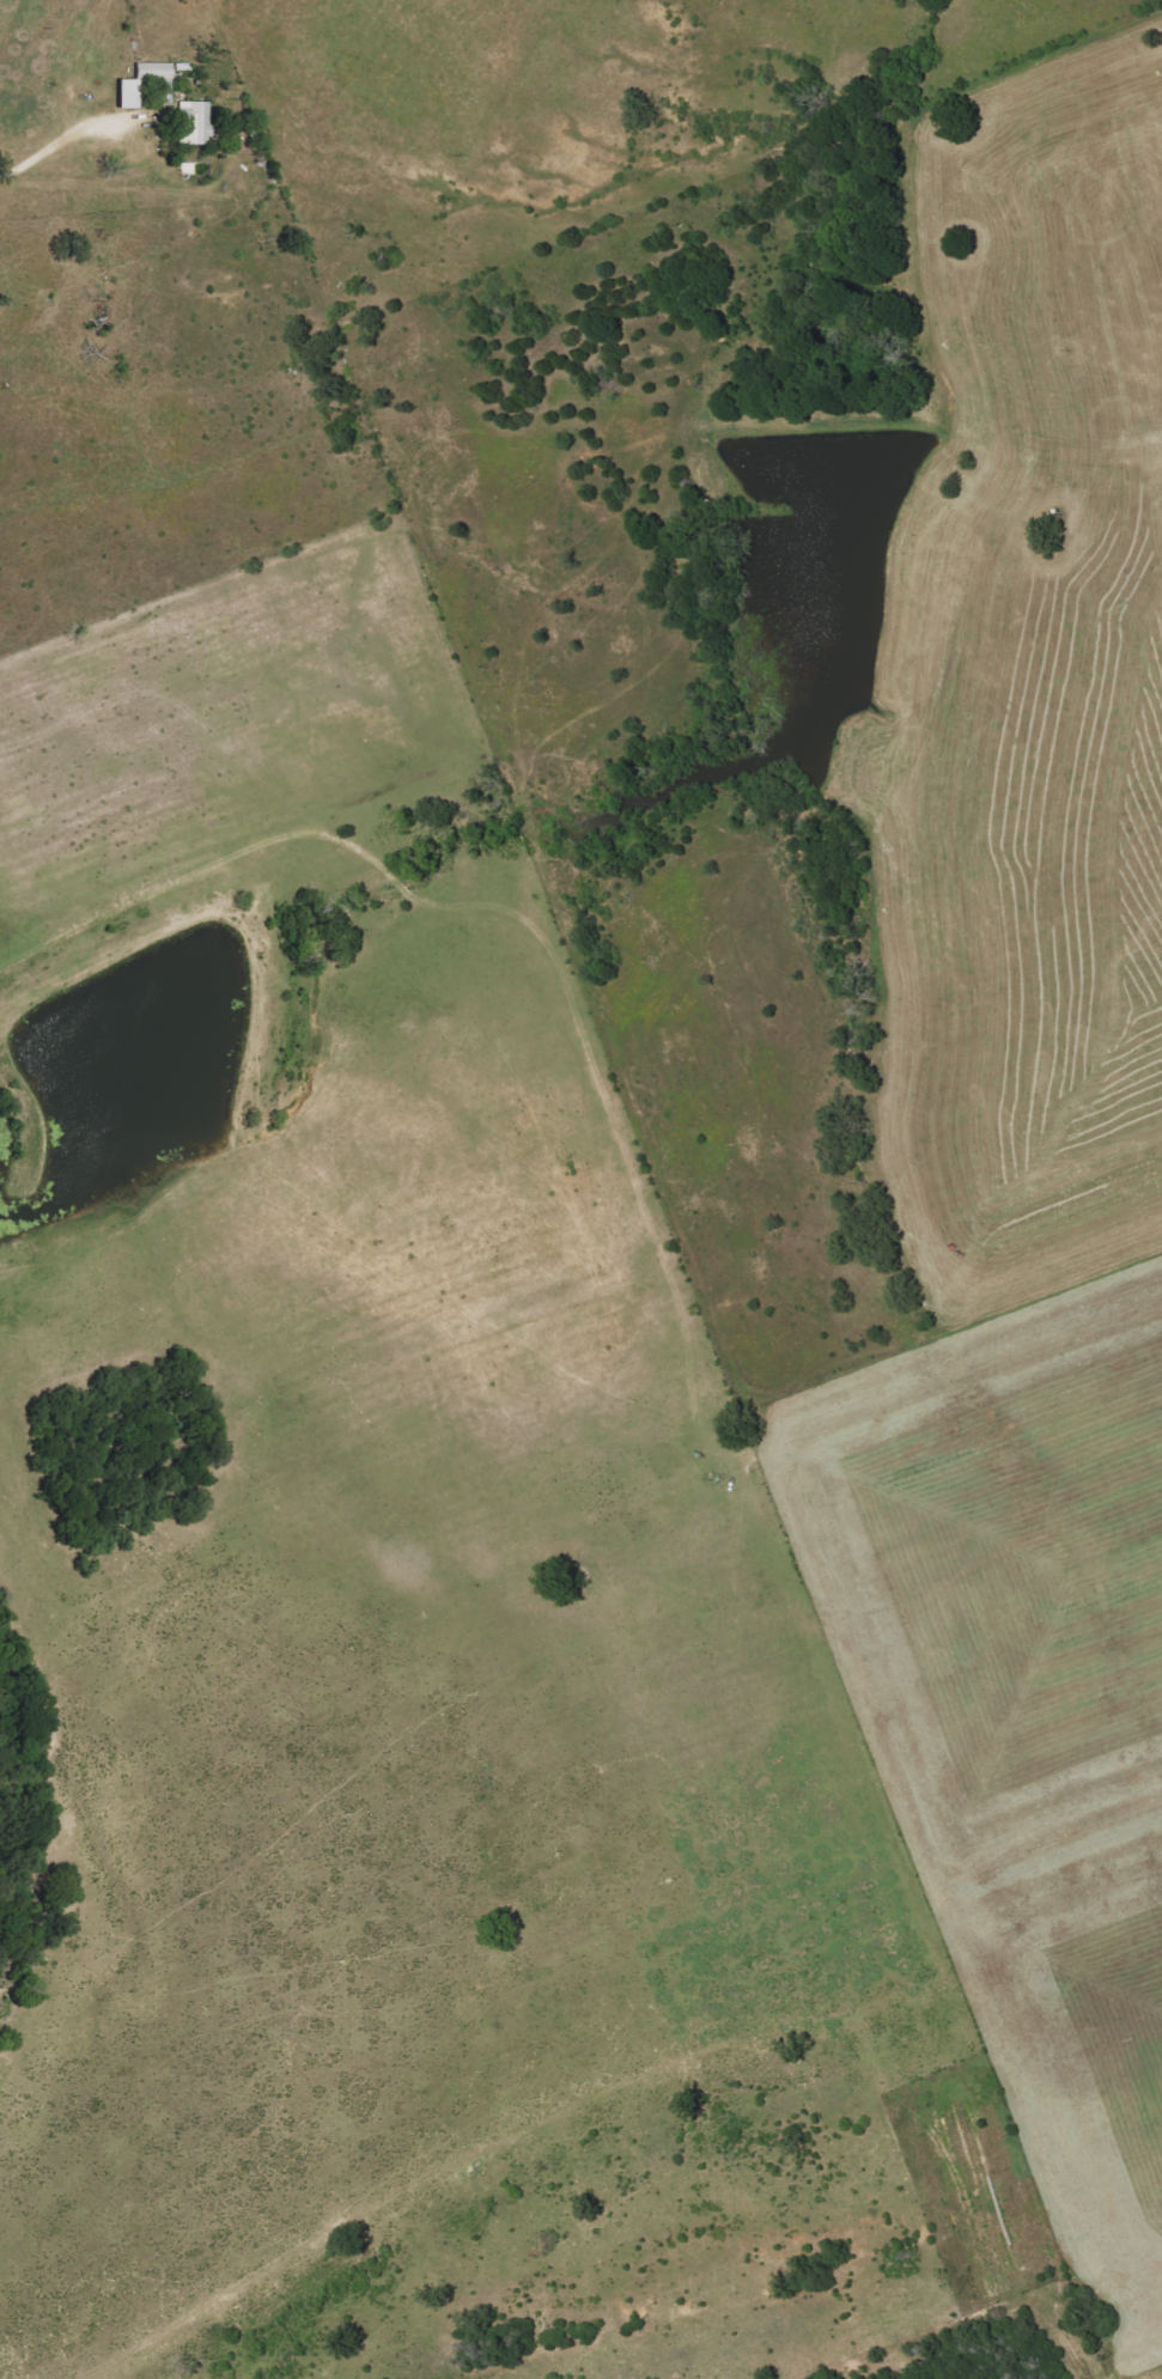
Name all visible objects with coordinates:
building: (126, 93)
building: (191, 121)
road: (62, 133)

